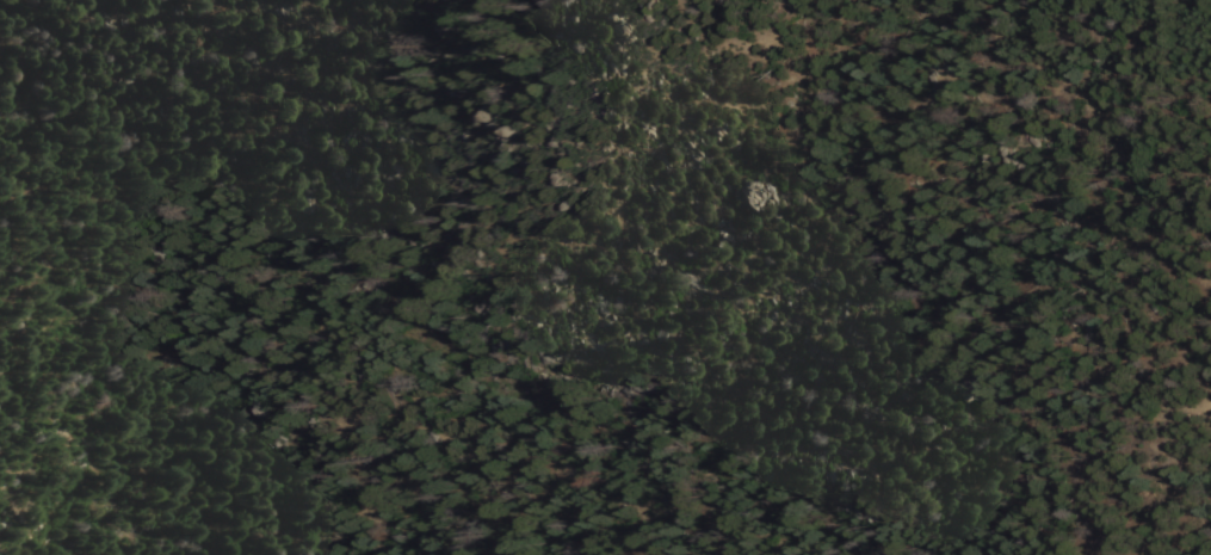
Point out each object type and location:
road: (36, 142)
road: (86, 369)

